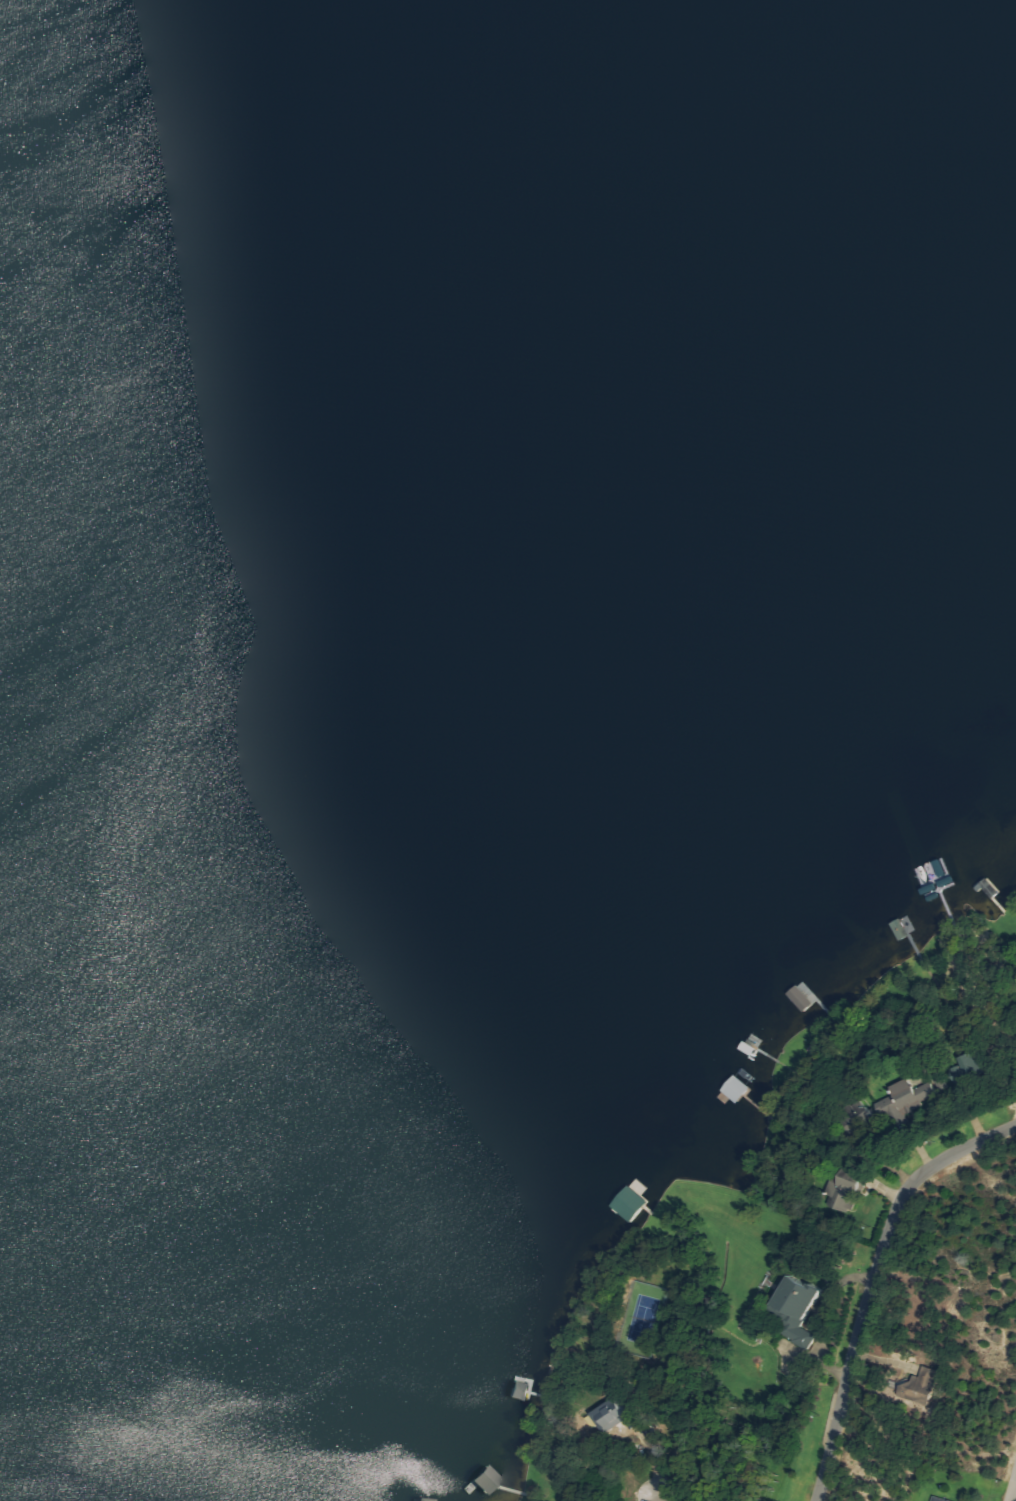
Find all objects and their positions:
building: (912, 1097)
building: (845, 1191)
road: (875, 1282)
building: (801, 1308)
building: (924, 1386)
building: (617, 1415)
road: (1012, 1486)
road: (655, 1498)
building: (943, 1499)

